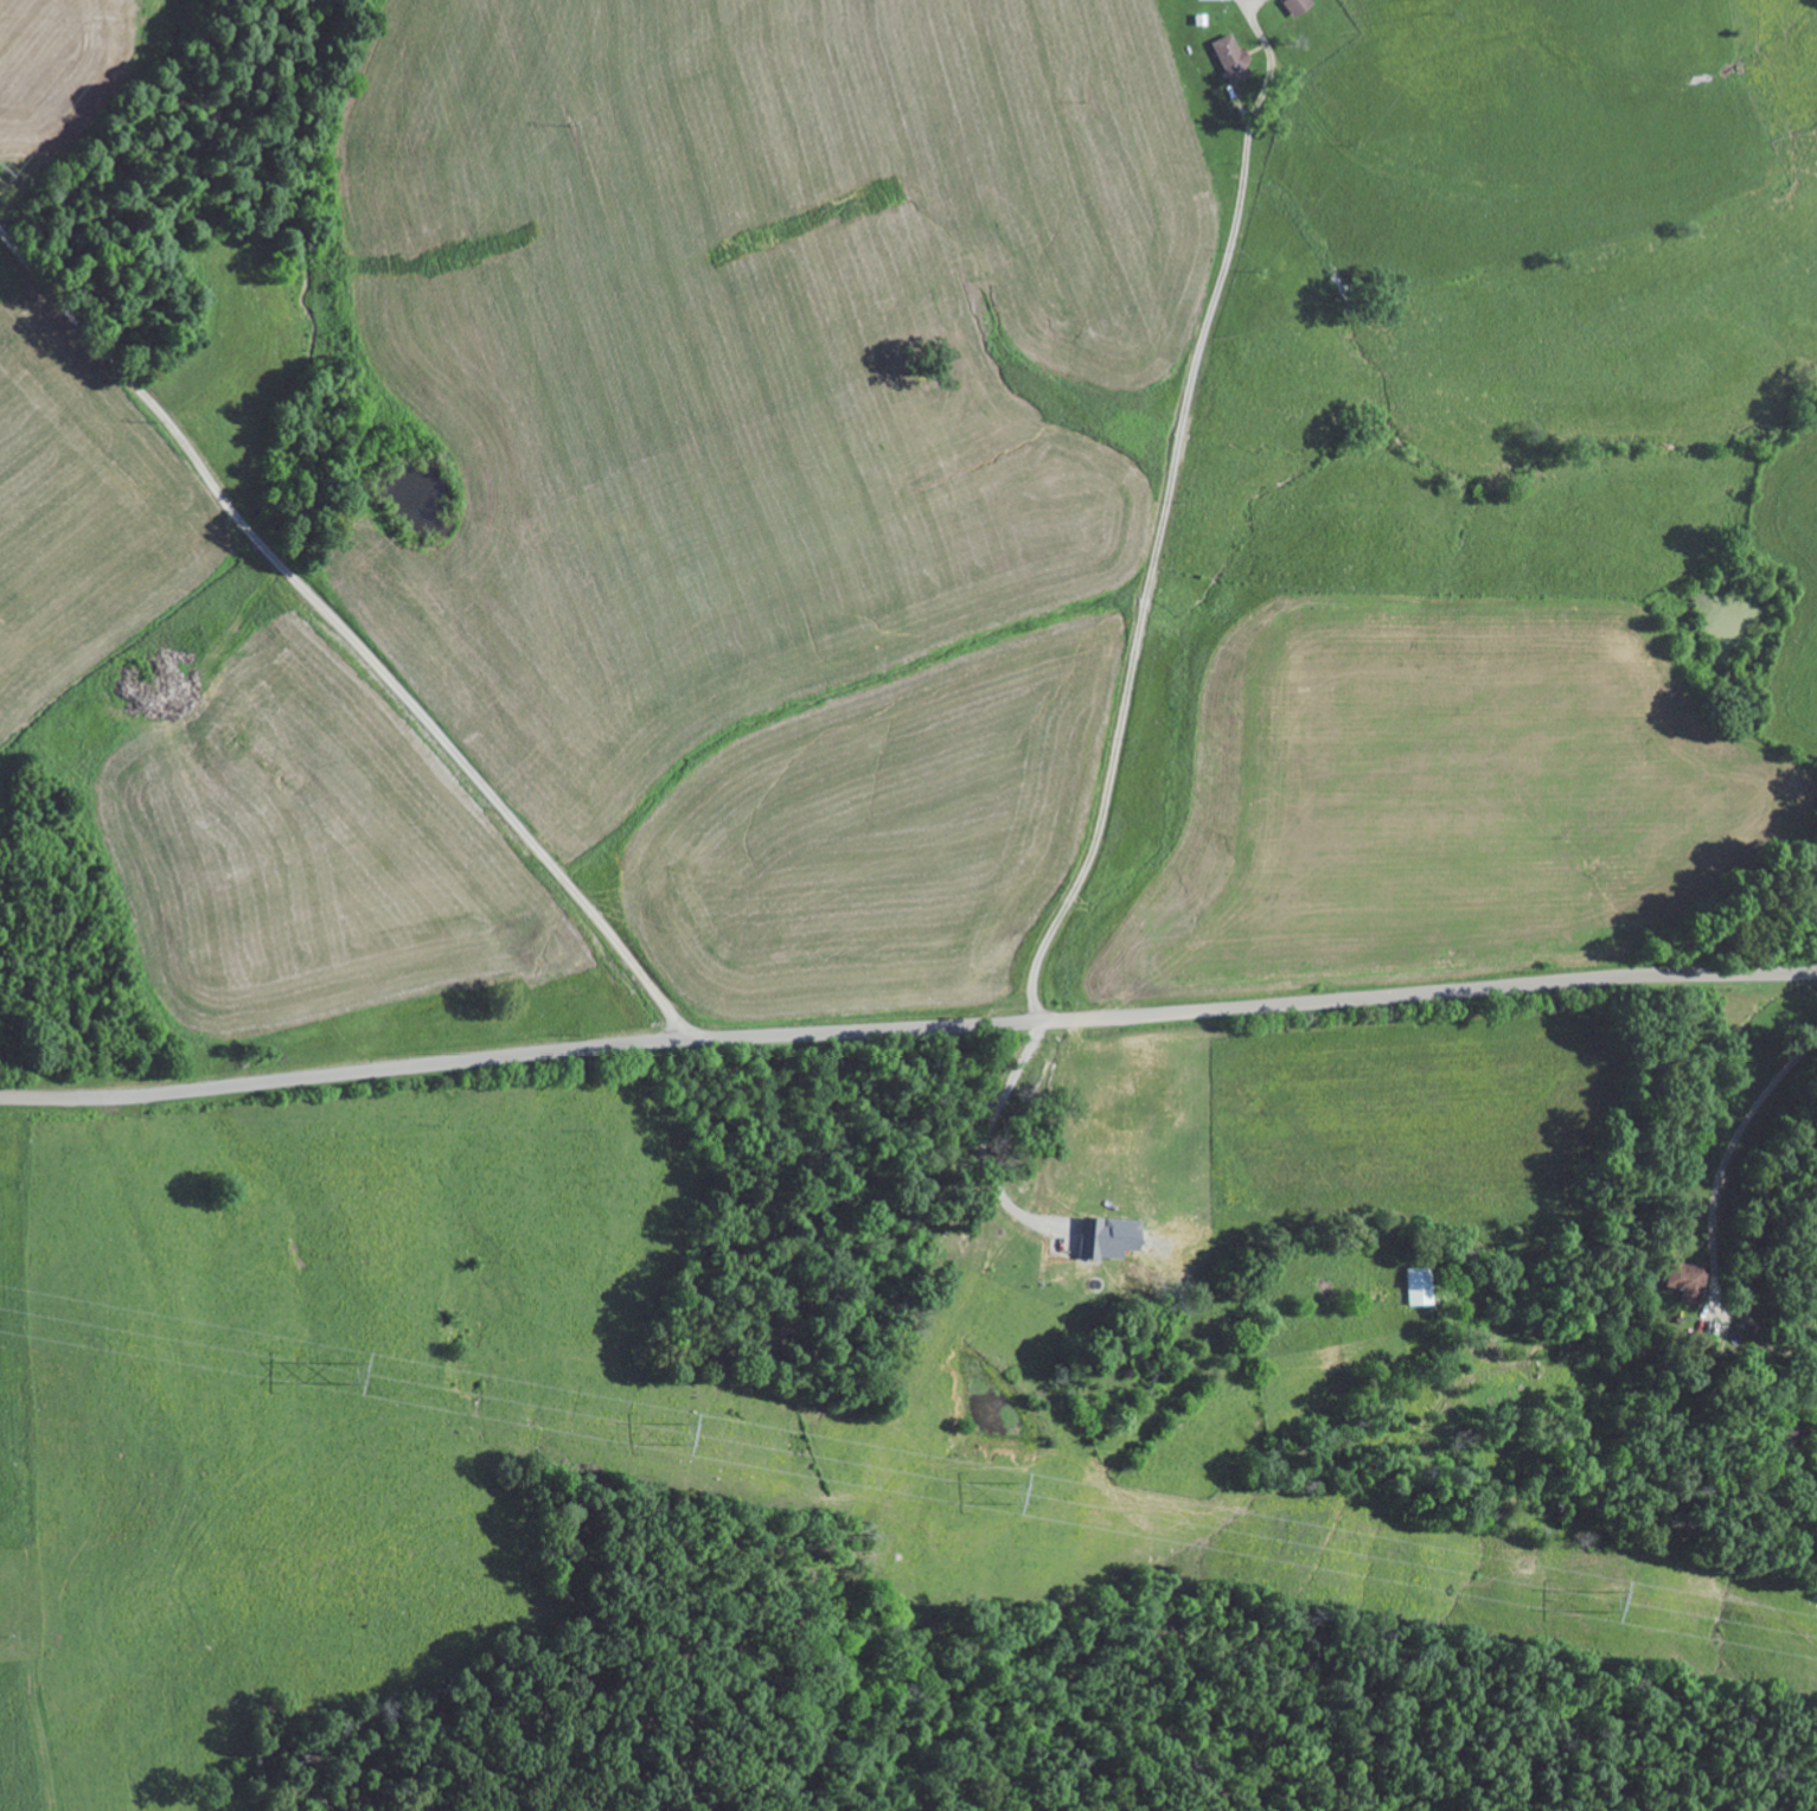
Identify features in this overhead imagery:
building: (1291, 6)
building: (1226, 58)
road: (1536, 171)
road: (1157, 537)
road: (345, 631)
road: (907, 1024)
road: (309, 1199)
building: (1101, 1237)
road: (187, 1279)
building: (1680, 1280)
power tower: (347, 1370)
power tower: (676, 1431)
power tower: (1004, 1491)
power tower: (1602, 1599)

